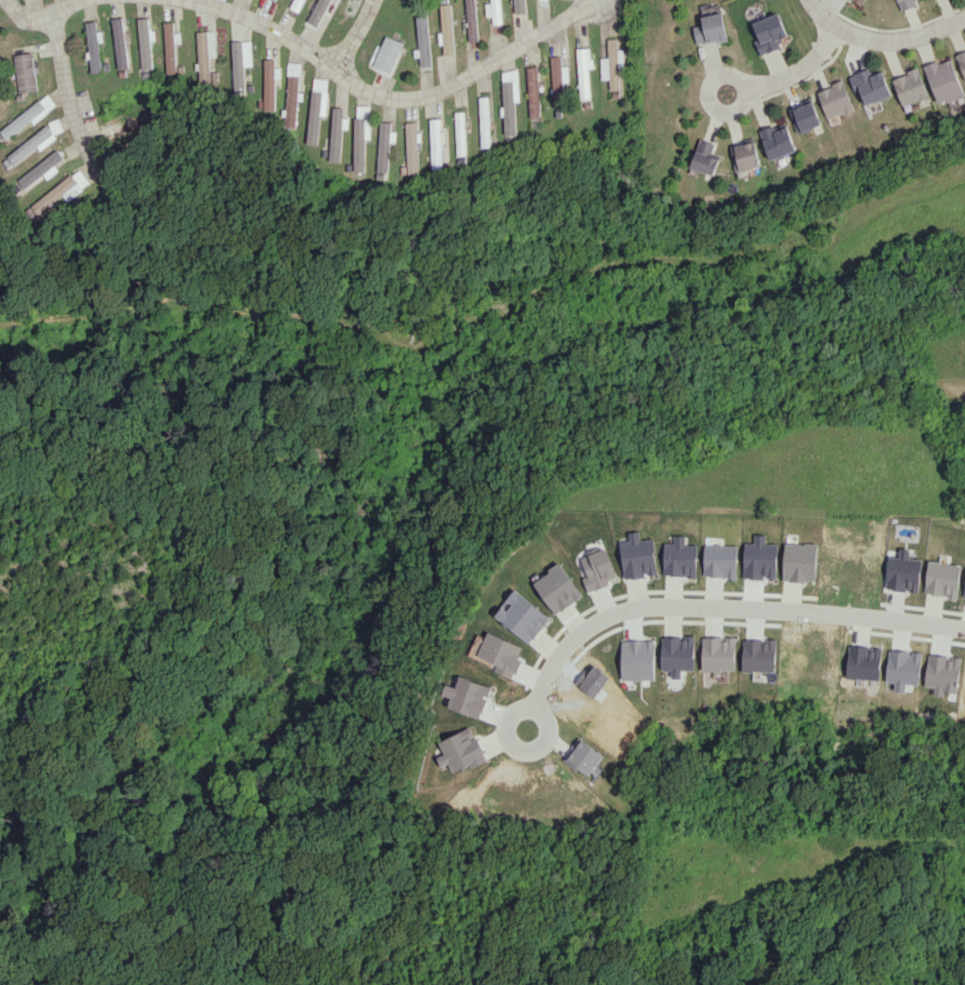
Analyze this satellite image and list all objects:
building: (275, 0)
building: (859, 1)
building: (907, 4)
road: (75, 5)
building: (298, 5)
building: (517, 6)
building: (493, 11)
road: (24, 14)
building: (470, 20)
building: (446, 29)
building: (710, 29)
building: (768, 32)
road: (353, 34)
road: (883, 39)
building: (422, 40)
building: (119, 43)
building: (144, 43)
building: (94, 46)
building: (170, 47)
building: (204, 53)
building: (387, 54)
building: (961, 60)
building: (240, 64)
building: (610, 64)
building: (583, 71)
building: (25, 72)
road: (792, 73)
building: (556, 80)
building: (945, 82)
building: (268, 84)
building: (871, 85)
building: (910, 87)
building: (532, 92)
road: (69, 95)
building: (291, 95)
building: (835, 100)
building: (509, 101)
road: (392, 102)
building: (316, 107)
building: (28, 116)
building: (805, 116)
building: (484, 121)
building: (336, 133)
building: (460, 133)
building: (360, 140)
building: (778, 140)
building: (437, 143)
building: (32, 145)
building: (384, 146)
building: (412, 147)
building: (745, 155)
building: (704, 157)
building: (42, 169)
building: (61, 192)
building: (637, 556)
building: (679, 558)
building: (719, 561)
building: (799, 562)
building: (596, 570)
building: (903, 572)
building: (943, 579)
building: (556, 588)
building: (964, 593)
road: (713, 608)
building: (520, 616)
building: (718, 653)
building: (677, 654)
building: (864, 662)
building: (903, 668)
building: (459, 750)

